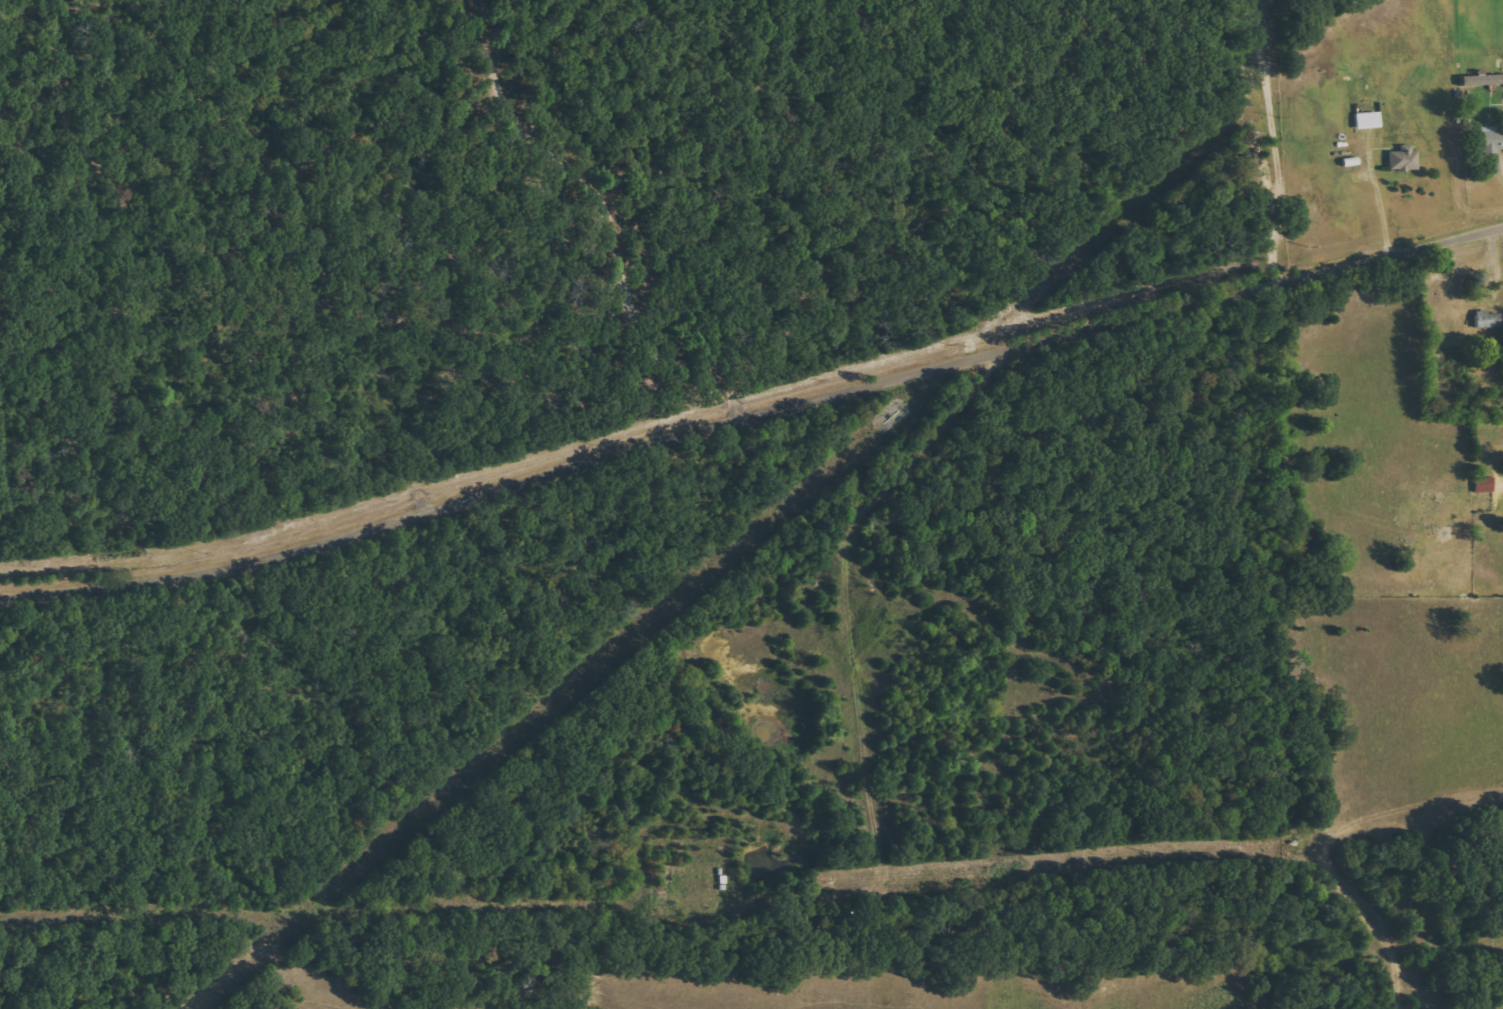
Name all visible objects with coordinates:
building: (1369, 120)
building: (1490, 139)
road: (1276, 141)
building: (1404, 158)
road: (597, 209)
building: (1488, 319)
road: (751, 418)
building: (1485, 484)

